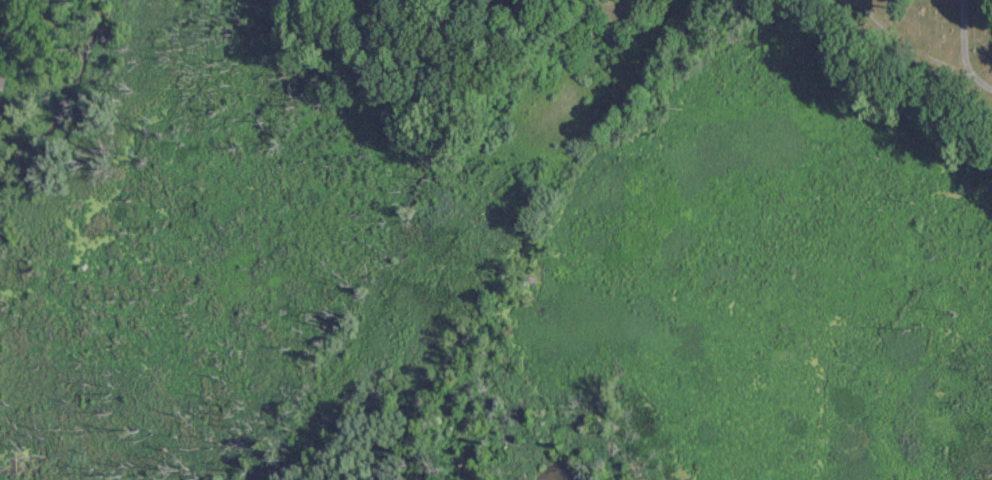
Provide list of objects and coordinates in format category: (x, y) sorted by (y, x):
park: (934, 46)

